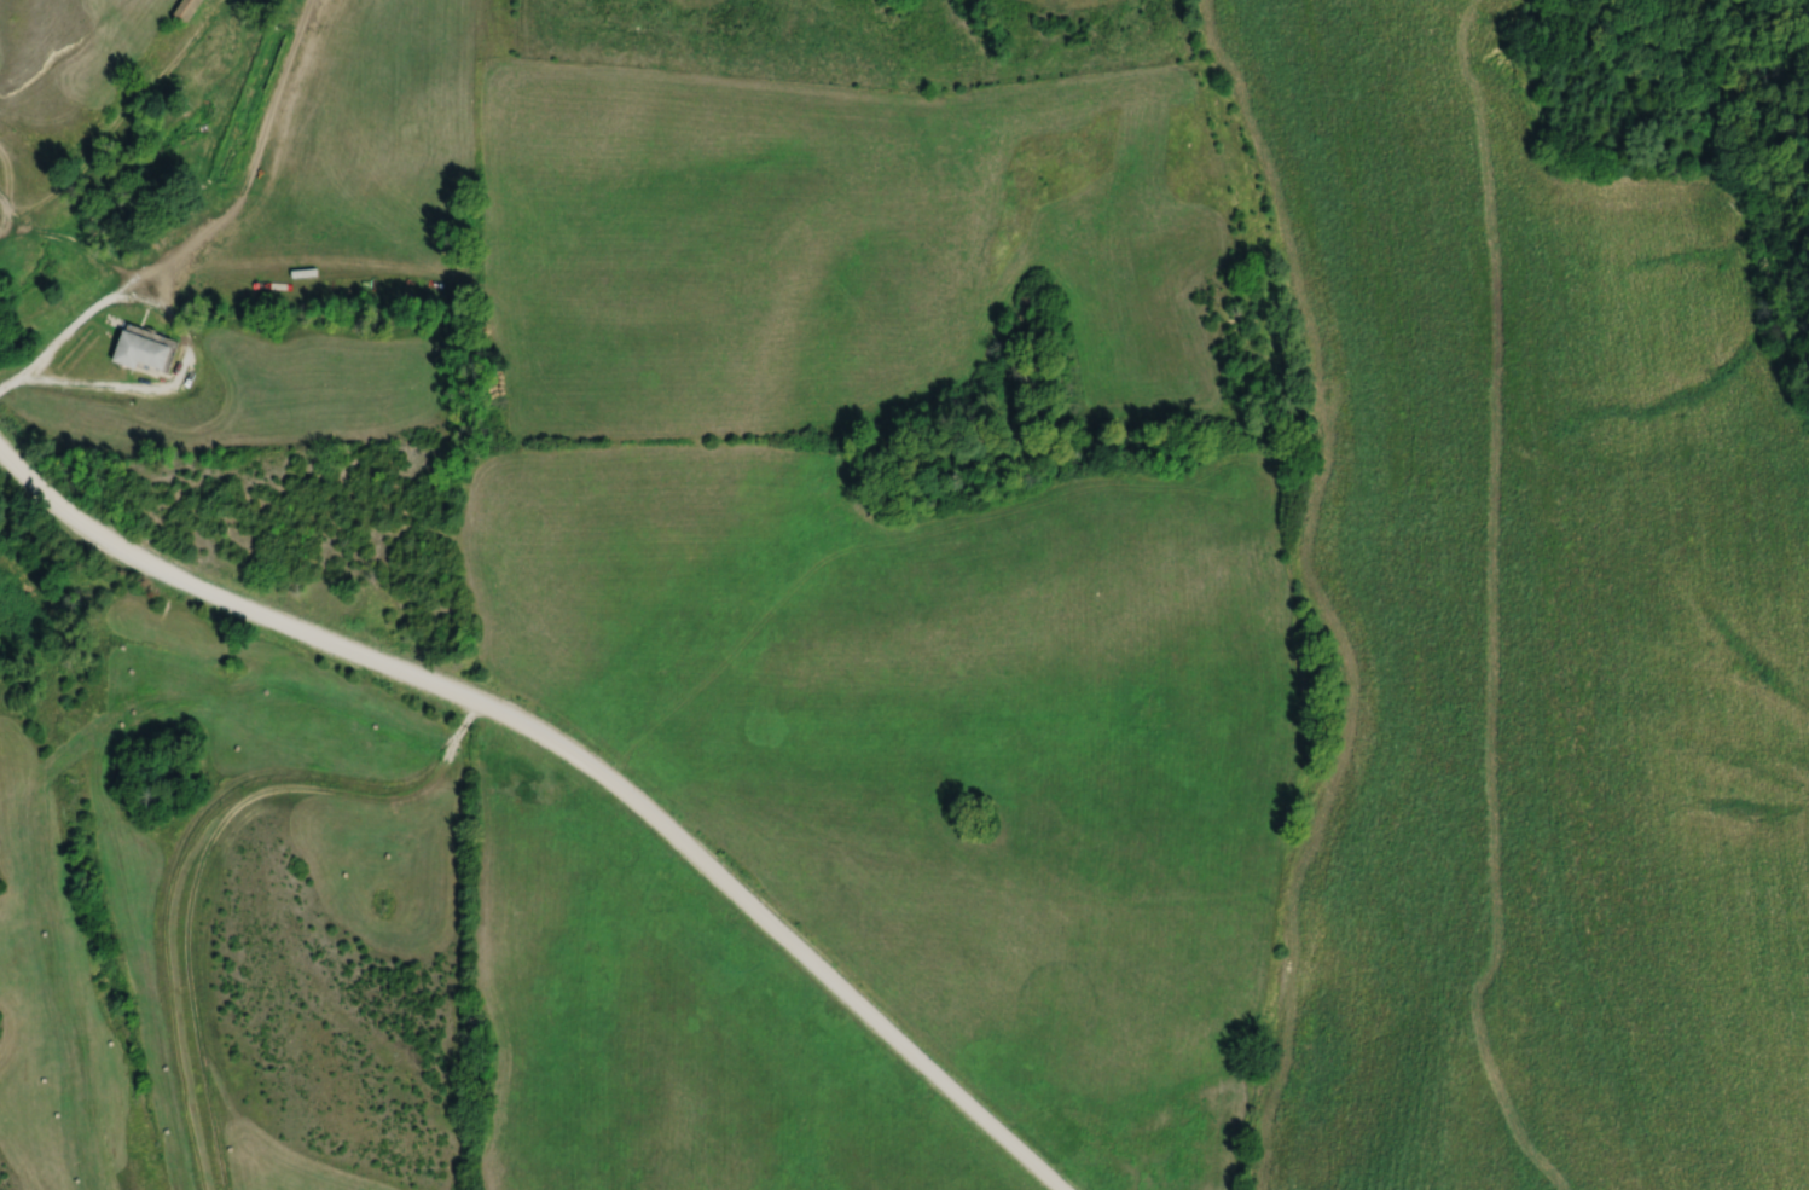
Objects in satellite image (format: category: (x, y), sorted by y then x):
building: (191, 10)
road: (233, 238)
building: (146, 350)
road: (572, 756)

